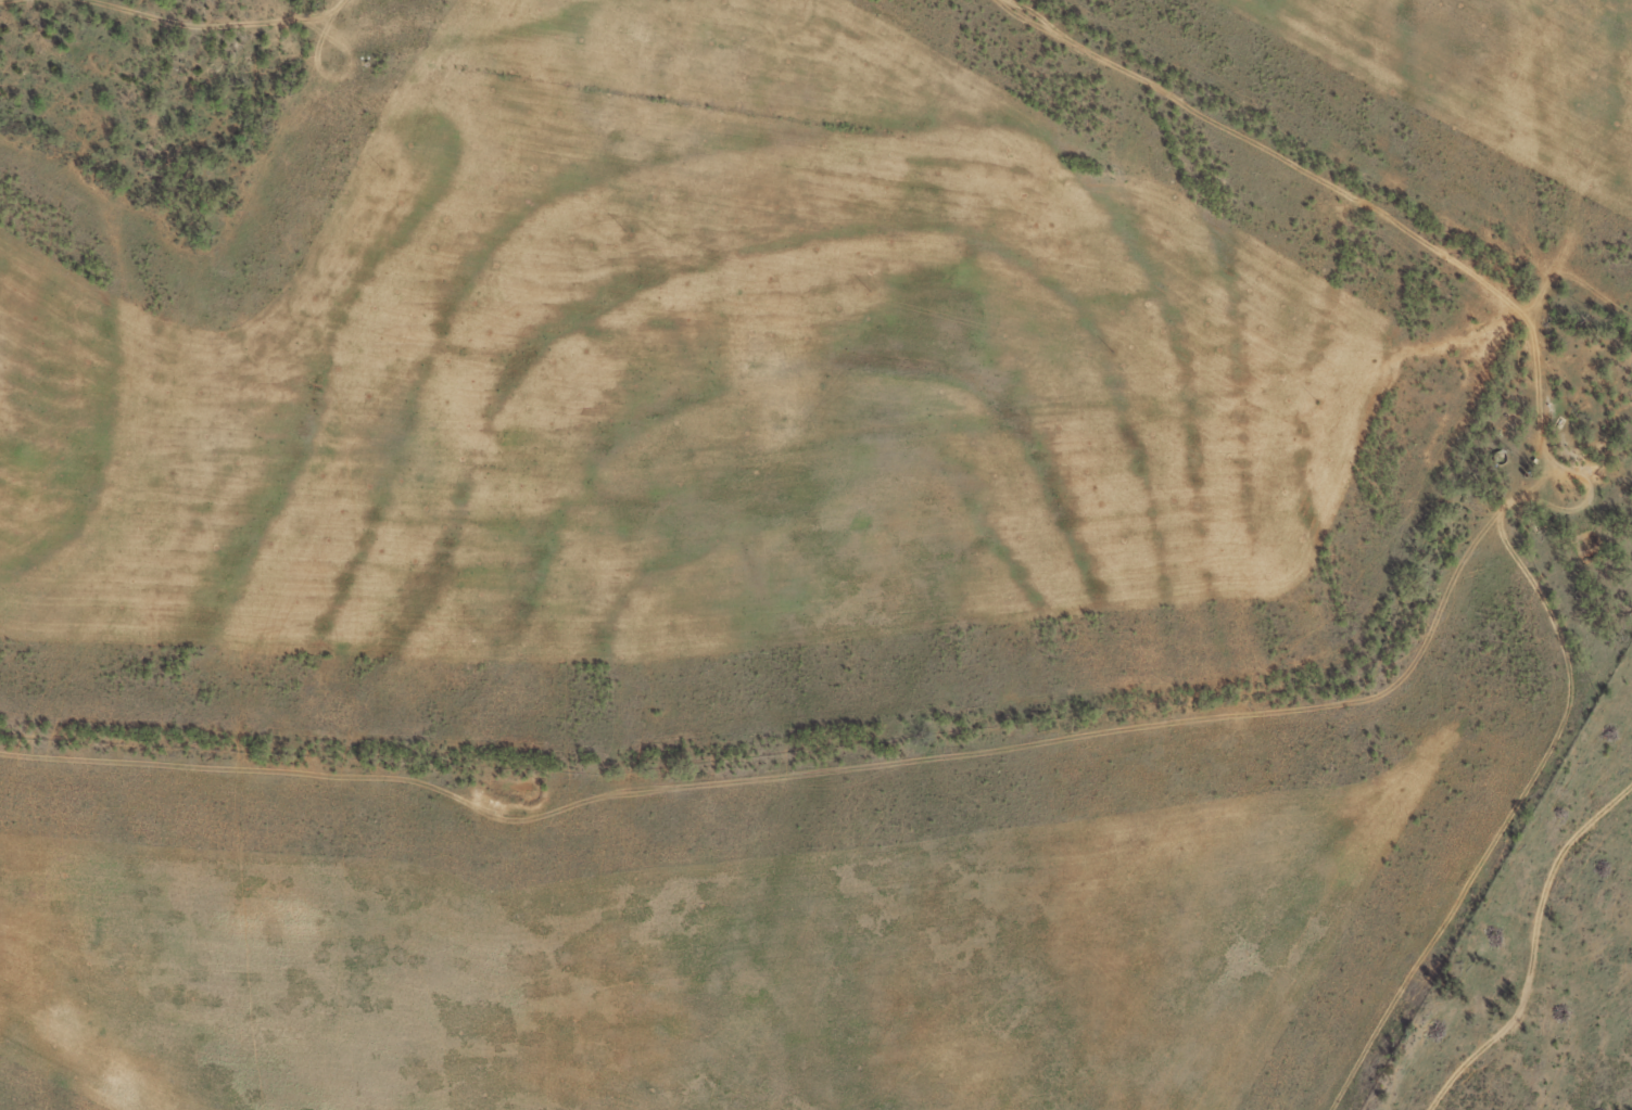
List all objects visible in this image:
road: (1370, 173)
road: (1622, 409)
road: (1535, 956)

